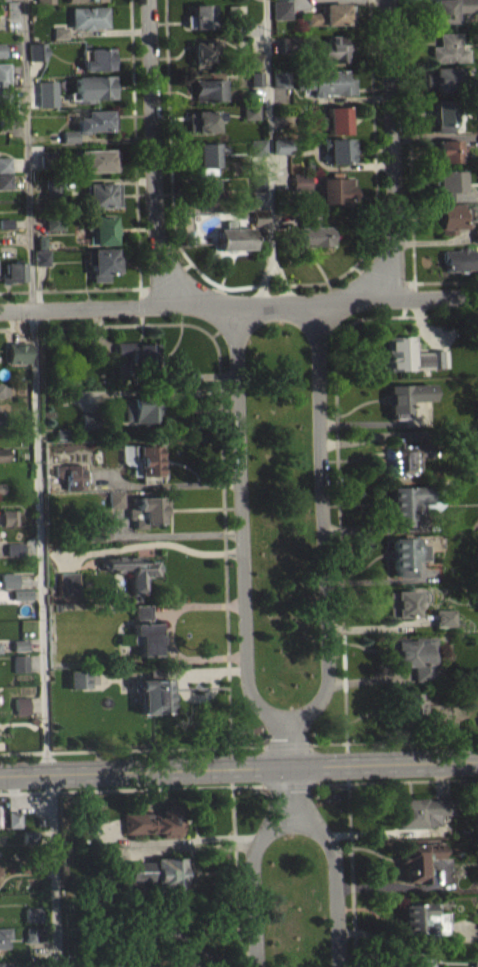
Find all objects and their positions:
building: (79, 0)
building: (44, 1)
building: (3, 3)
building: (452, 9)
building: (280, 10)
building: (234, 14)
building: (331, 14)
building: (88, 16)
building: (200, 16)
building: (59, 32)
building: (59, 39)
building: (286, 45)
building: (1, 48)
building: (450, 48)
building: (36, 49)
building: (333, 49)
building: (203, 51)
building: (1, 56)
building: (99, 58)
building: (255, 61)
building: (3, 72)
building: (443, 78)
building: (255, 79)
building: (280, 79)
building: (324, 83)
building: (93, 86)
building: (209, 89)
building: (4, 92)
building: (46, 102)
building: (250, 112)
building: (443, 114)
building: (95, 120)
building: (203, 120)
building: (327, 120)
building: (6, 121)
road: (269, 131)
road: (170, 134)
road: (374, 135)
road: (408, 141)
building: (69, 142)
building: (282, 146)
building: (257, 147)
building: (448, 149)
building: (338, 150)
road: (27, 154)
road: (393, 155)
road: (154, 156)
building: (208, 157)
building: (48, 159)
building: (98, 159)
building: (5, 162)
building: (5, 170)
building: (5, 178)
building: (301, 180)
building: (257, 183)
building: (448, 183)
building: (53, 186)
building: (5, 187)
building: (335, 191)
building: (206, 193)
building: (101, 194)
building: (259, 217)
building: (450, 217)
building: (5, 221)
building: (54, 221)
building: (259, 226)
building: (102, 228)
building: (53, 230)
building: (311, 231)
building: (475, 234)
building: (234, 237)
building: (475, 242)
building: (41, 256)
building: (463, 259)
building: (103, 261)
building: (40, 263)
building: (13, 271)
road: (445, 281)
road: (284, 282)
road: (264, 283)
road: (255, 285)
road: (69, 289)
road: (239, 304)
road: (139, 305)
road: (404, 315)
building: (16, 350)
building: (409, 353)
building: (136, 354)
building: (3, 389)
building: (405, 395)
building: (3, 397)
building: (140, 404)
building: (88, 418)
building: (1, 420)
building: (88, 427)
building: (60, 432)
road: (220, 432)
building: (2, 453)
building: (104, 453)
building: (406, 454)
building: (145, 457)
building: (3, 461)
building: (70, 473)
building: (0, 487)
building: (1, 494)
building: (114, 498)
building: (405, 501)
road: (338, 503)
building: (146, 509)
building: (7, 515)
building: (7, 524)
road: (324, 524)
building: (96, 525)
road: (241, 525)
road: (39, 541)
road: (150, 542)
building: (12, 547)
building: (405, 553)
building: (13, 556)
building: (131, 568)
building: (7, 580)
building: (66, 582)
building: (19, 593)
building: (20, 601)
building: (401, 601)
building: (140, 610)
building: (443, 615)
building: (141, 617)
building: (444, 624)
building: (146, 636)
building: (18, 643)
building: (19, 651)
building: (414, 653)
building: (19, 661)
building: (20, 670)
building: (77, 678)
building: (152, 693)
building: (411, 702)
building: (20, 704)
building: (21, 712)
road: (394, 741)
road: (288, 744)
road: (132, 748)
road: (346, 762)
road: (231, 766)
road: (239, 767)
road: (291, 767)
road: (397, 780)
road: (290, 784)
road: (132, 788)
building: (421, 811)
building: (13, 818)
building: (153, 821)
building: (31, 836)
building: (418, 859)
building: (23, 864)
road: (53, 869)
building: (156, 872)
road: (350, 874)
road: (234, 876)
road: (335, 878)
road: (254, 879)
building: (31, 914)
building: (422, 918)
building: (31, 921)
building: (34, 934)
building: (3, 937)
building: (474, 957)
building: (417, 960)
building: (3, 965)

